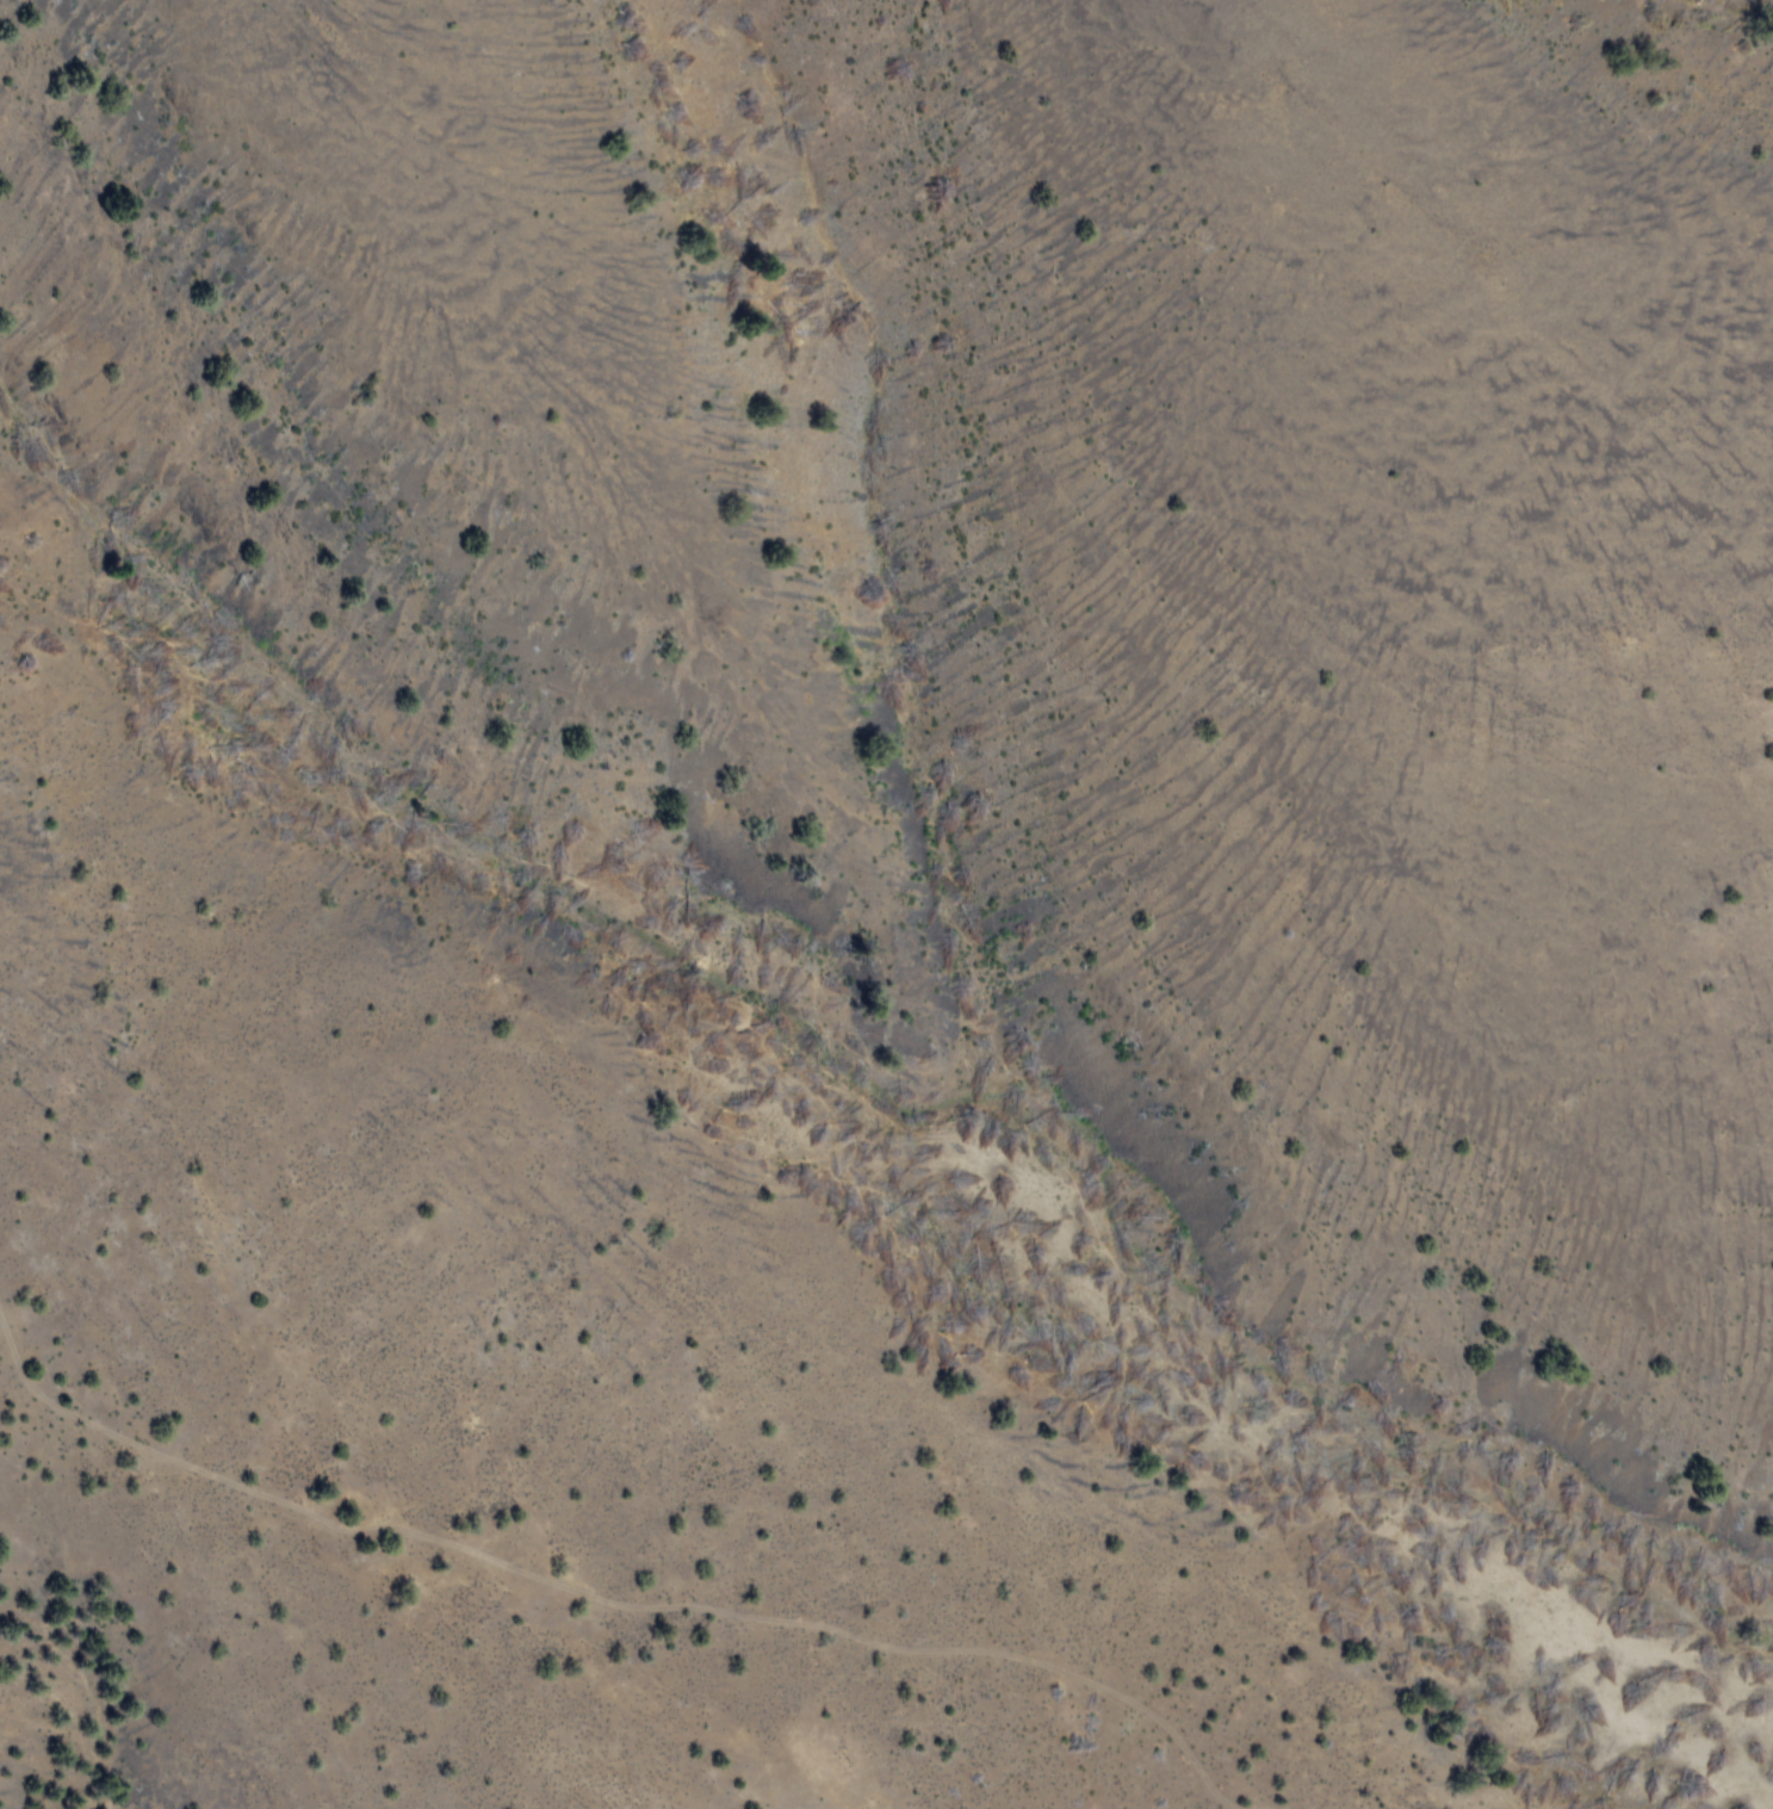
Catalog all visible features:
road: (628, 1599)

